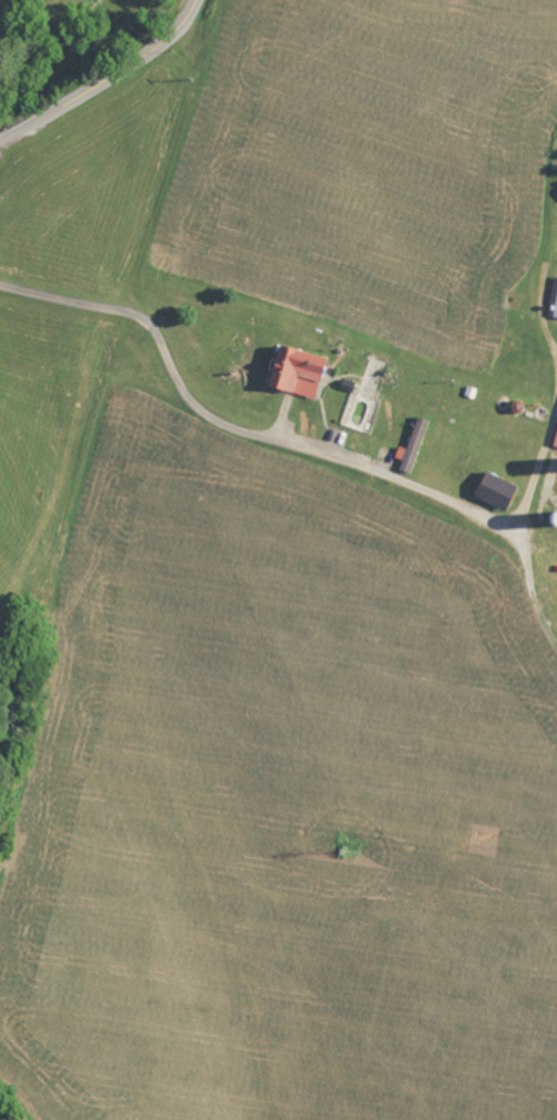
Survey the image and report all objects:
road: (106, 79)
building: (555, 310)
building: (298, 370)
road: (237, 428)
building: (555, 444)
building: (412, 447)
road: (539, 468)
building: (496, 490)
power tower: (346, 851)

